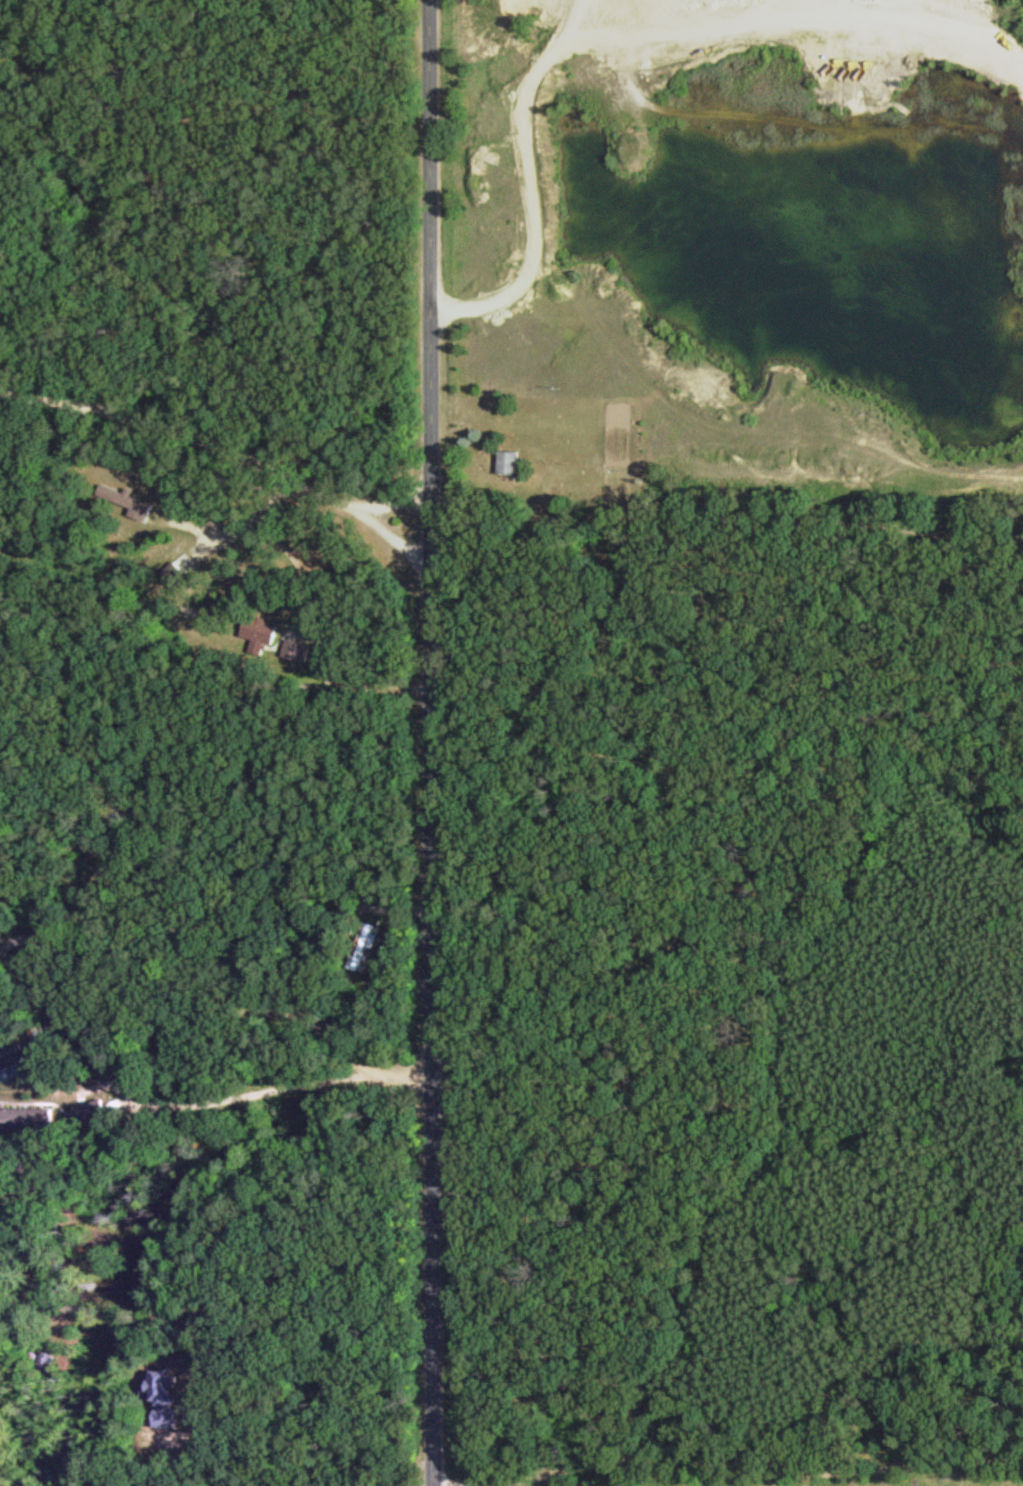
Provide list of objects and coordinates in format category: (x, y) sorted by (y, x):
quarry: (515, 239)
road: (220, 446)
building: (514, 460)
building: (263, 632)
road: (437, 743)
road: (212, 888)
building: (102, 1109)
building: (34, 1118)
building: (171, 1397)
road: (736, 1477)

